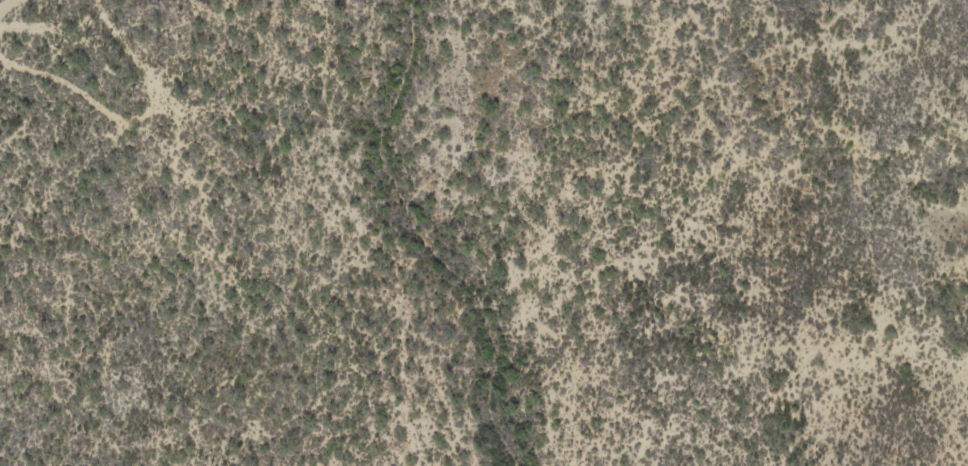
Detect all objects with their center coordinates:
road: (6, 6)

